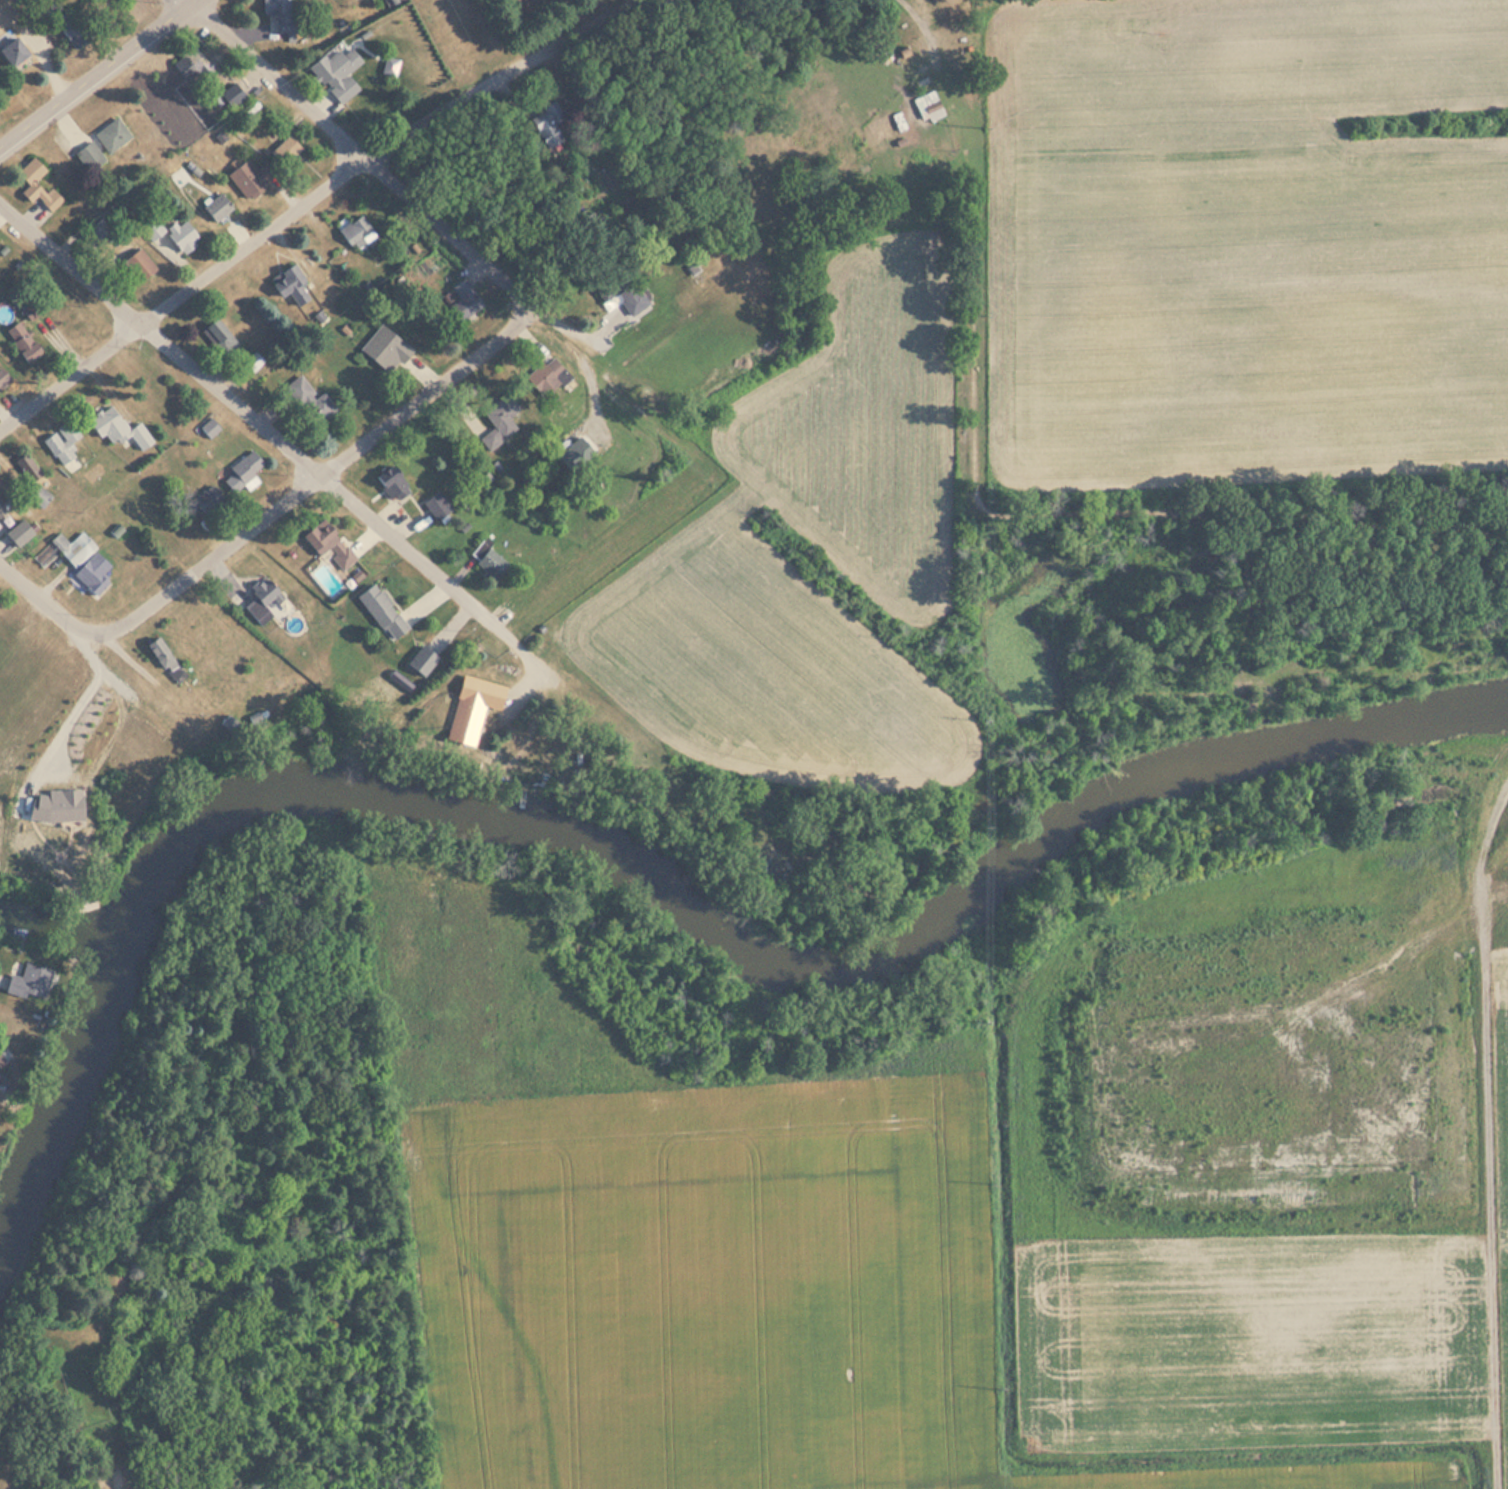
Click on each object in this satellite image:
building: (280, 15)
building: (73, 33)
building: (12, 50)
building: (191, 65)
building: (337, 73)
road: (99, 74)
building: (230, 97)
building: (928, 107)
building: (545, 126)
building: (112, 135)
building: (288, 147)
road: (365, 153)
building: (90, 155)
building: (251, 177)
building: (37, 185)
road: (312, 200)
building: (217, 207)
building: (153, 228)
building: (99, 232)
building: (356, 232)
building: (182, 235)
building: (138, 265)
building: (290, 285)
building: (622, 293)
building: (464, 300)
building: (31, 312)
building: (220, 336)
building: (23, 342)
building: (385, 350)
building: (254, 362)
building: (551, 378)
building: (1, 379)
building: (308, 402)
building: (502, 415)
building: (115, 427)
road: (296, 441)
building: (62, 443)
building: (245, 466)
building: (27, 467)
road: (316, 482)
building: (393, 486)
building: (39, 495)
building: (207, 499)
building: (438, 506)
building: (2, 509)
building: (18, 532)
building: (327, 543)
building: (77, 560)
building: (488, 560)
road: (429, 597)
building: (262, 600)
road: (43, 601)
building: (382, 612)
building: (162, 656)
building: (421, 661)
building: (472, 707)
building: (228, 723)
building: (60, 803)
river: (650, 881)
building: (23, 973)
building: (7, 1071)

